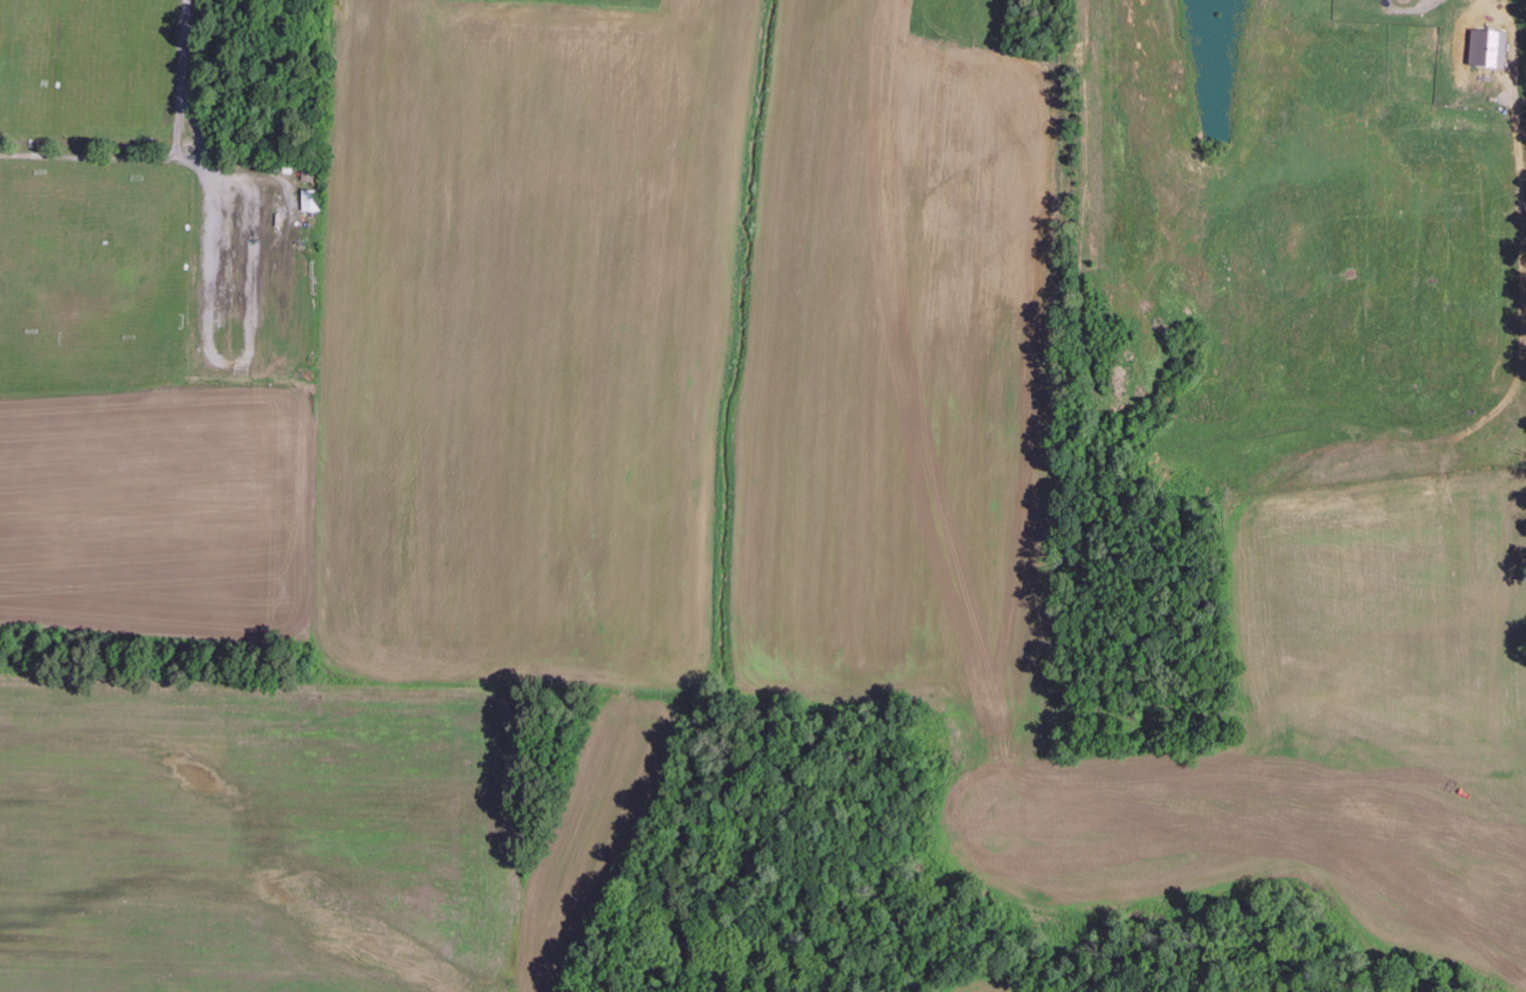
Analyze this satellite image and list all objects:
building: (1490, 49)
road: (31, 53)
road: (61, 67)
road: (154, 141)
road: (88, 172)
building: (313, 201)
road: (40, 257)
road: (19, 295)
park: (146, 321)
road: (167, 343)

